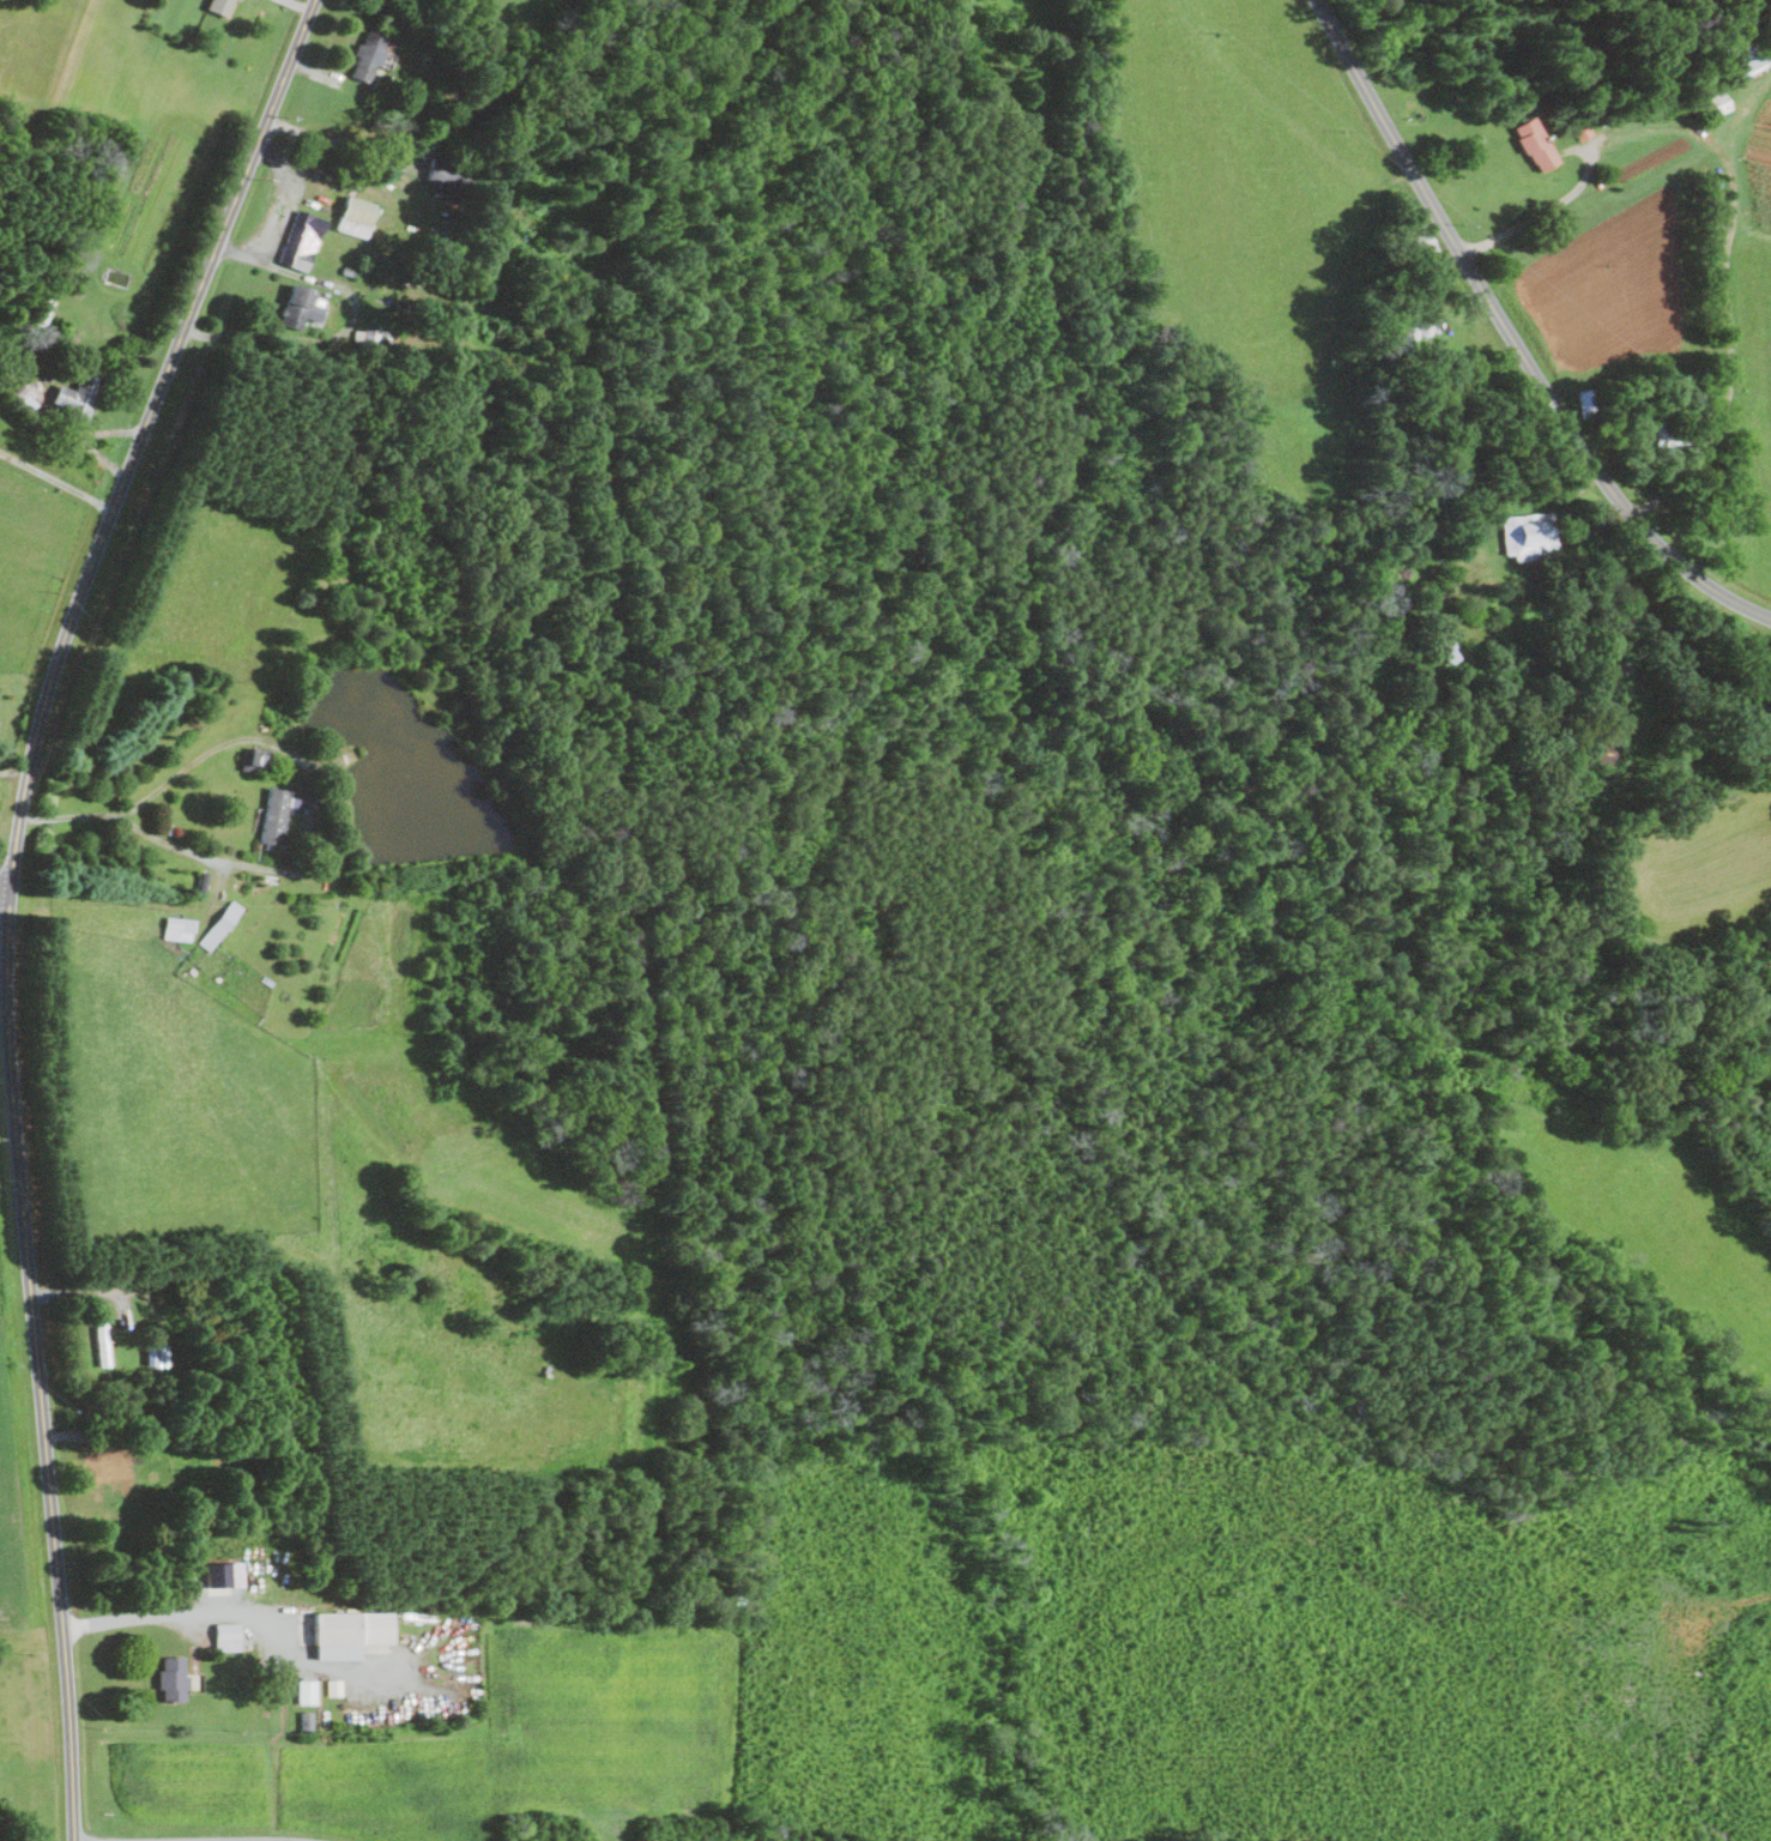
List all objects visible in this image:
building: (220, 6)
building: (368, 58)
building: (1748, 59)
building: (1582, 131)
road: (337, 141)
building: (1536, 145)
building: (449, 179)
road: (294, 198)
road: (1536, 215)
building: (357, 217)
building: (302, 241)
building: (302, 309)
road: (1730, 322)
road: (350, 324)
building: (370, 336)
road: (1512, 338)
building: (78, 394)
building: (1586, 402)
building: (1656, 439)
road: (56, 481)
building: (1531, 535)
building: (254, 760)
building: (274, 815)
road: (331, 857)
road: (7, 895)
road: (4, 898)
building: (220, 924)
building: (179, 928)
building: (158, 1356)
building: (109, 1465)
building: (225, 1575)
road: (238, 1612)
building: (350, 1634)
building: (228, 1636)
building: (173, 1678)
building: (334, 1688)
building: (307, 1691)
building: (307, 1720)
road: (192, 1840)

